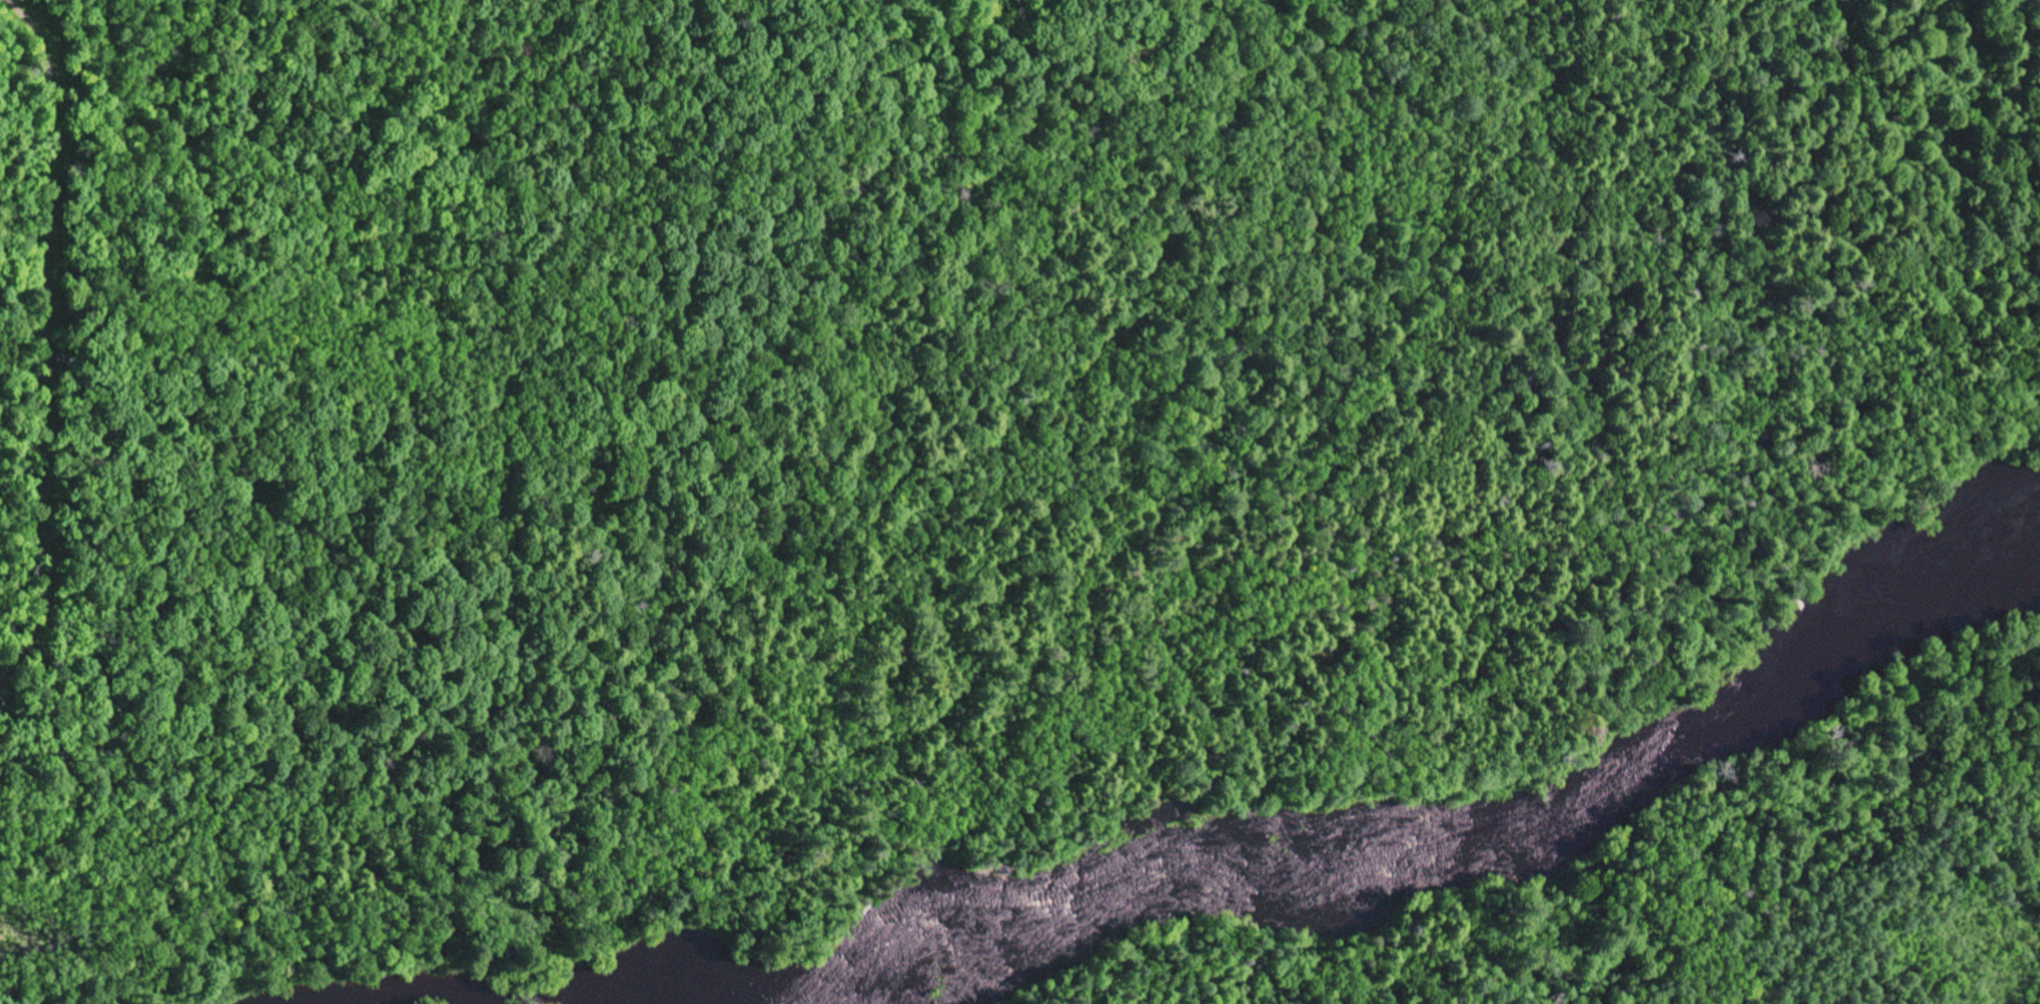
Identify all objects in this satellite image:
river: (1460, 852)

